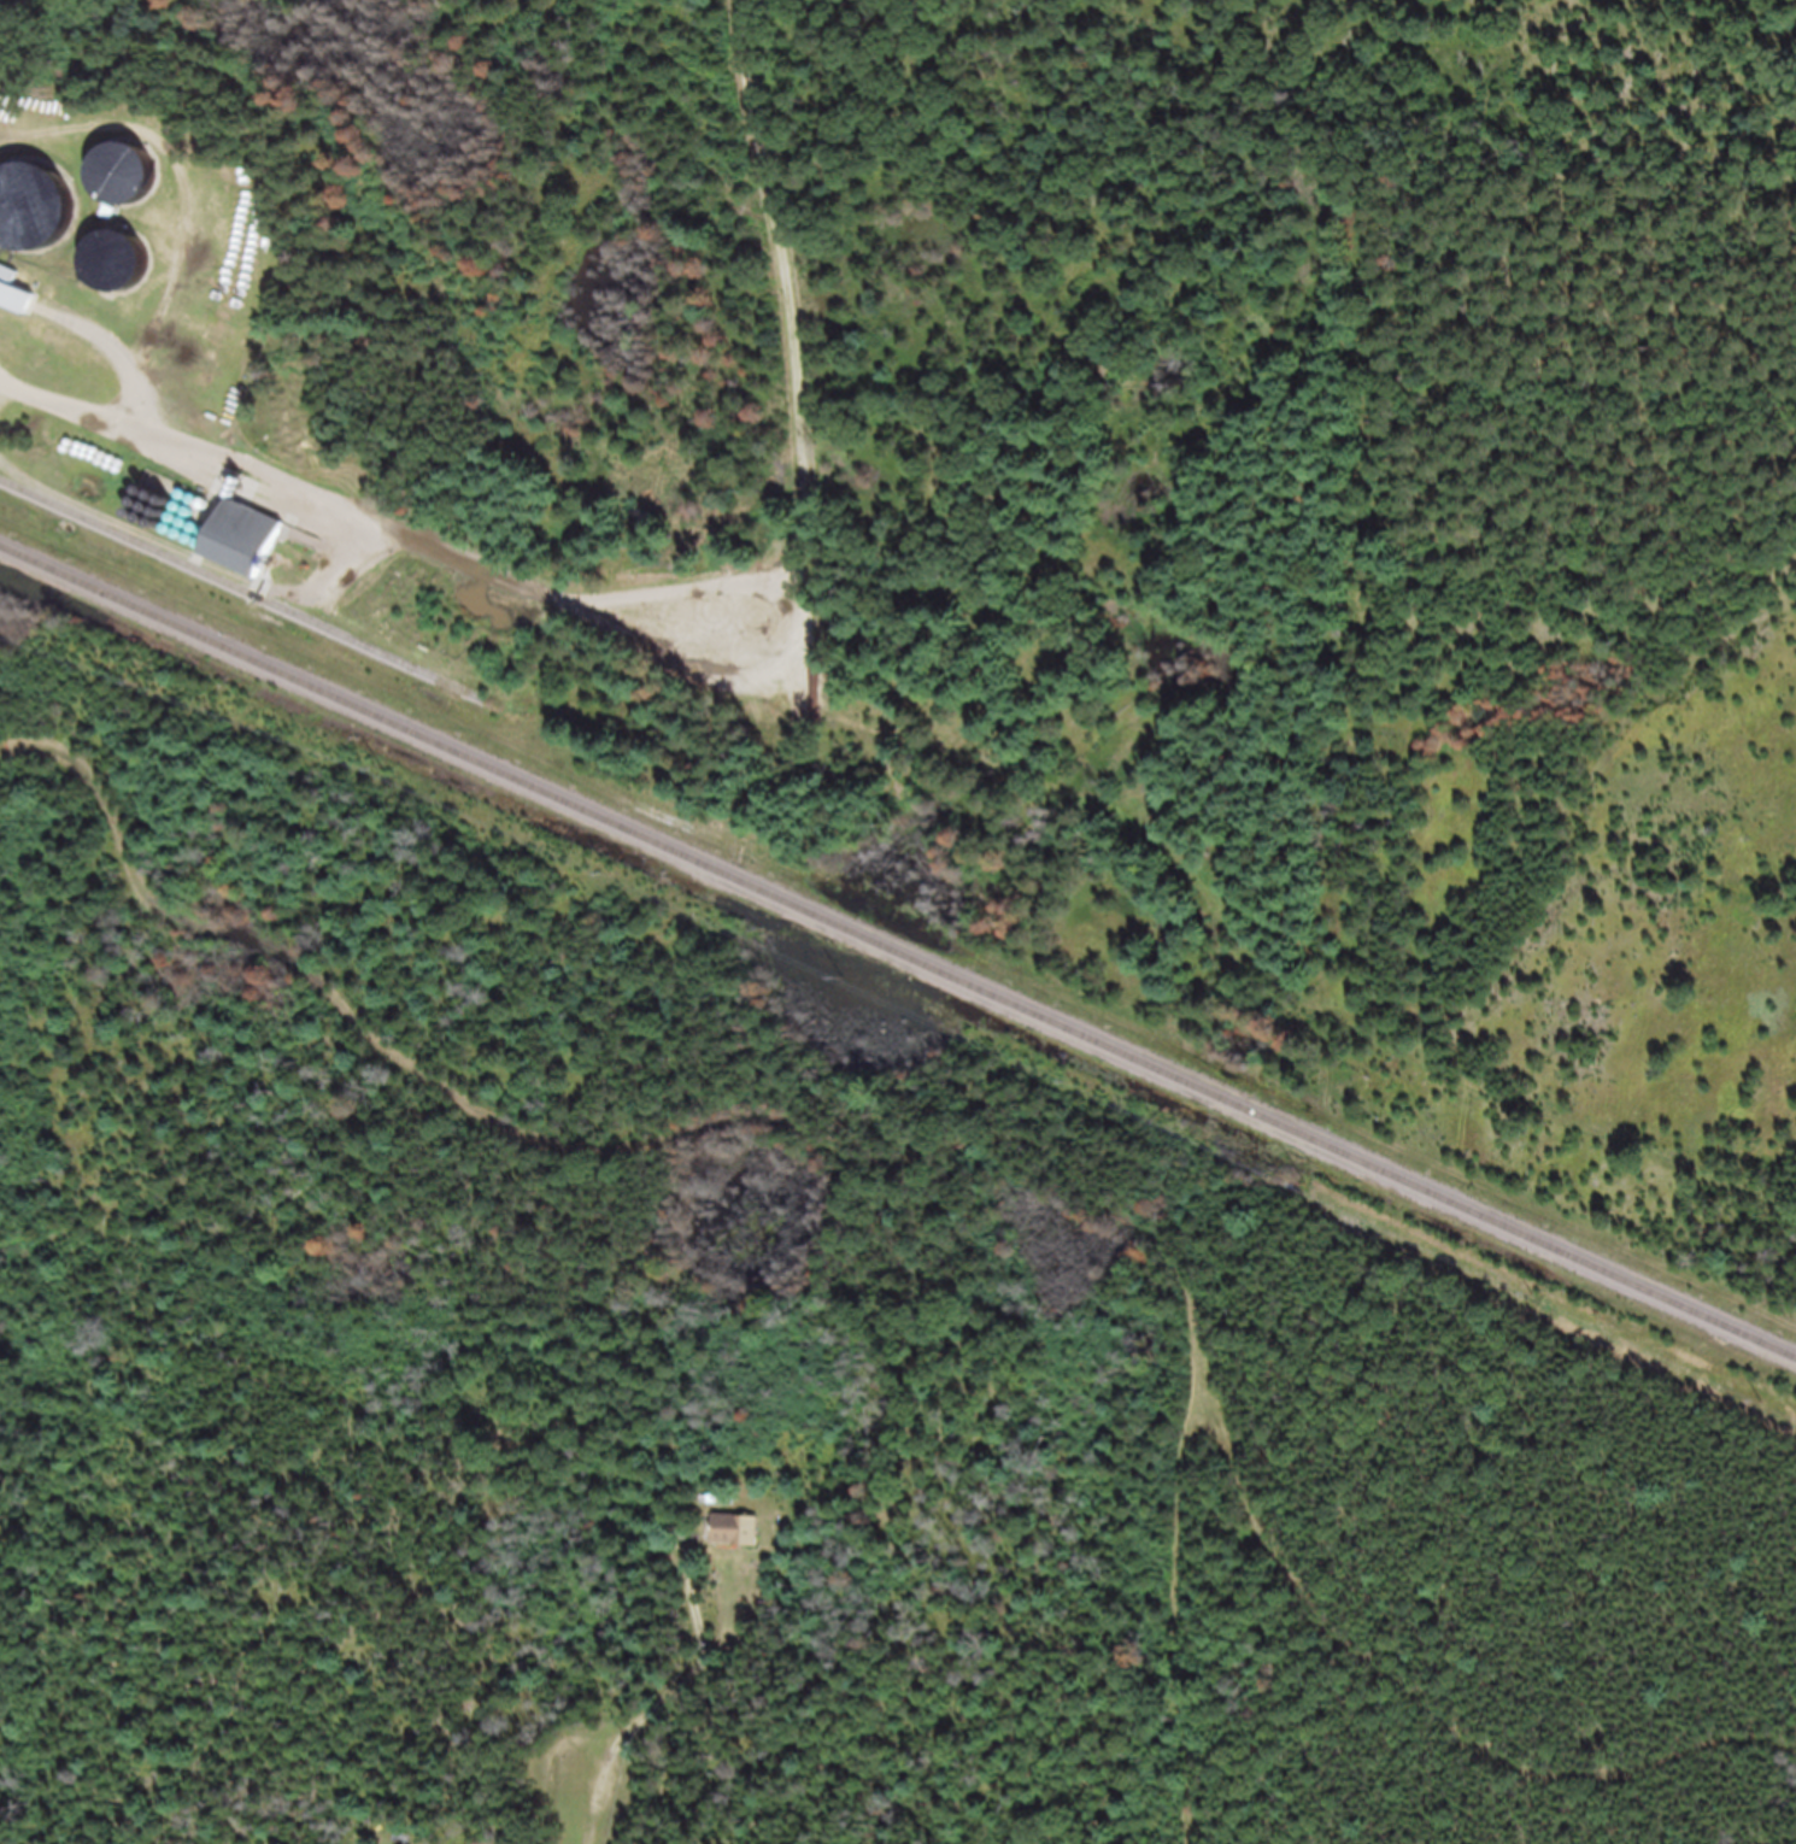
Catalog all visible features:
building: (258, 548)
railway: (246, 600)
road: (929, 744)
railway: (898, 961)
building: (747, 1527)
road: (585, 1751)

